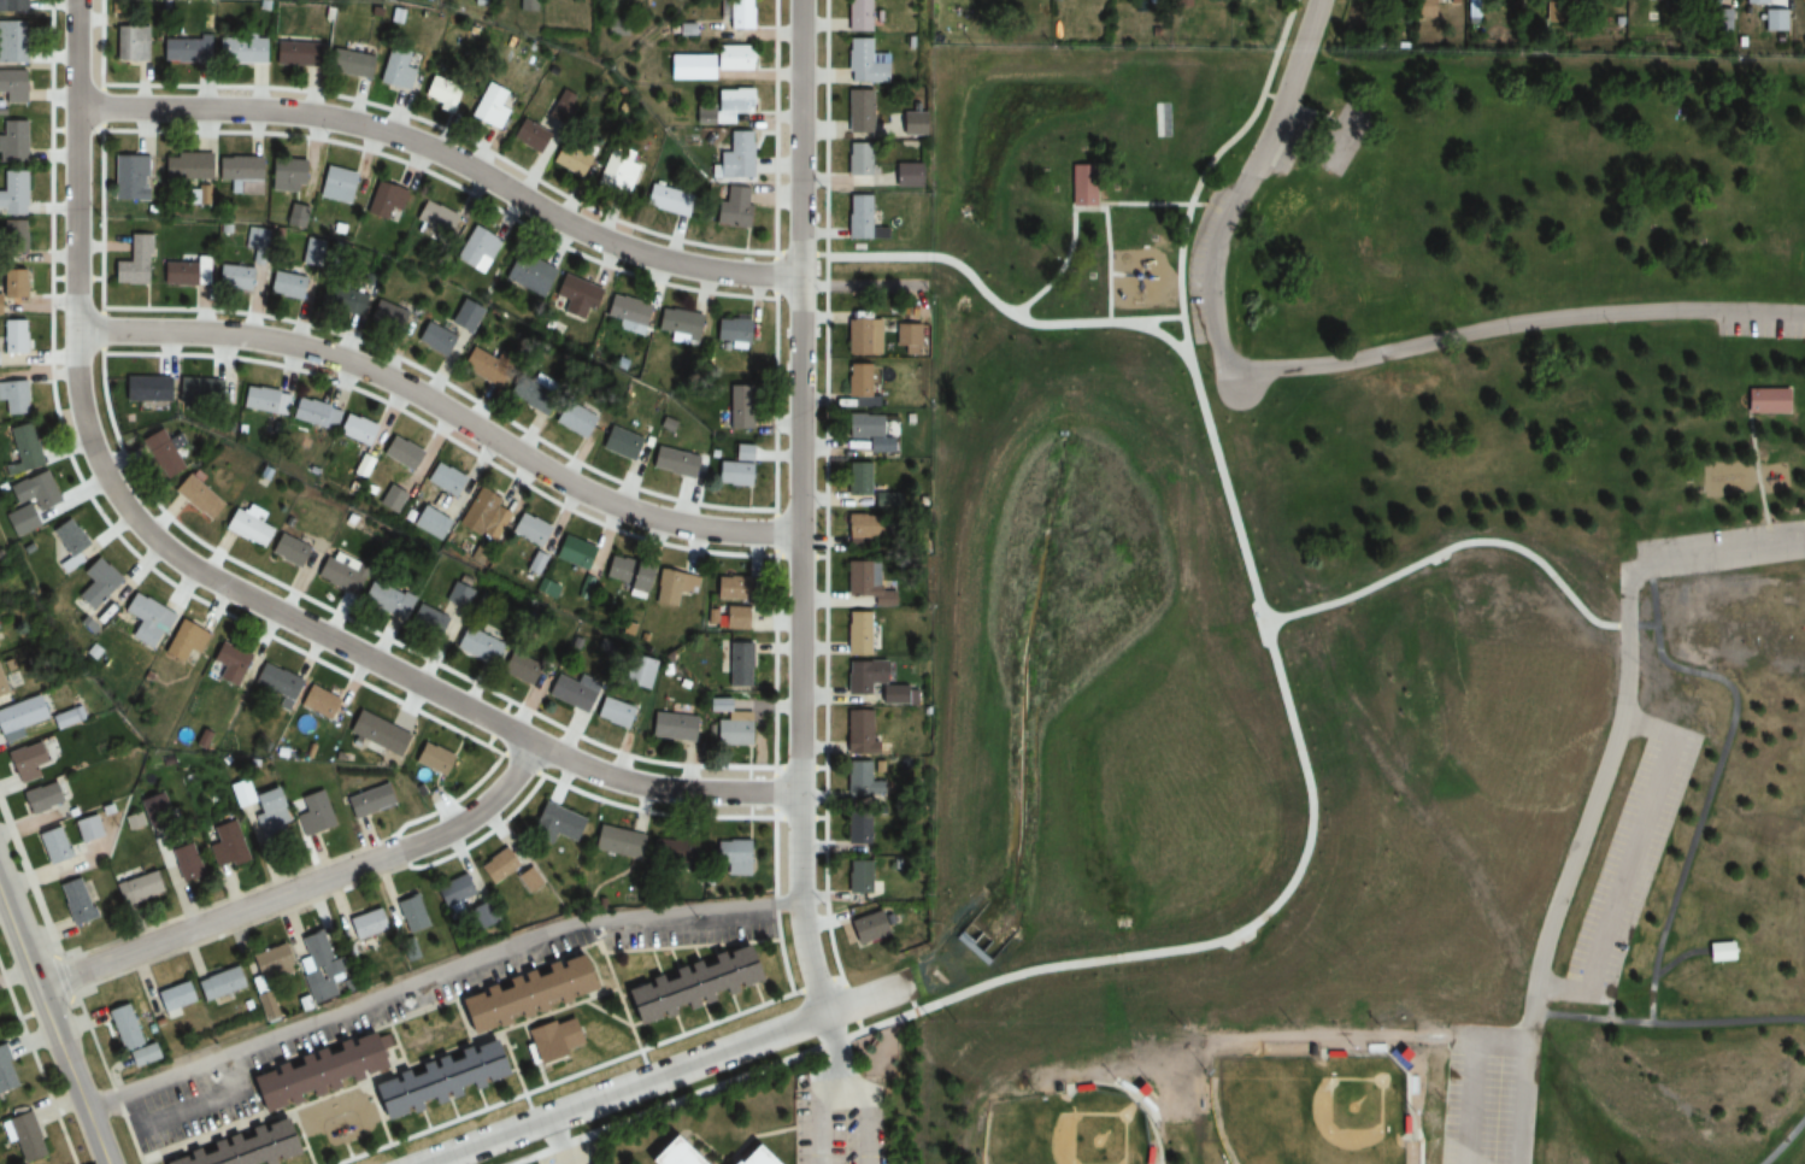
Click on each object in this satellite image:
building: (1754, 2)
building: (12, 6)
building: (735, 14)
building: (854, 16)
building: (1772, 20)
building: (12, 42)
building: (128, 45)
building: (182, 48)
building: (236, 51)
building: (292, 54)
building: (729, 59)
building: (862, 63)
building: (348, 65)
building: (688, 67)
building: (394, 70)
building: (11, 88)
building: (442, 89)
road: (1295, 106)
building: (489, 107)
building: (722, 108)
building: (854, 112)
building: (1163, 119)
building: (527, 136)
building: (11, 142)
building: (730, 155)
building: (569, 158)
building: (854, 165)
building: (183, 169)
building: (235, 170)
building: (286, 177)
building: (127, 178)
building: (335, 182)
road: (500, 184)
building: (1078, 189)
building: (11, 194)
building: (383, 201)
building: (664, 201)
road: (1153, 205)
building: (730, 207)
building: (433, 218)
building: (858, 221)
building: (11, 237)
road: (1010, 239)
building: (254, 240)
building: (476, 248)
road: (1106, 259)
building: (131, 263)
parking lot: (1201, 265)
building: (183, 274)
building: (528, 275)
building: (230, 278)
building: (11, 284)
building: (286, 286)
building: (574, 298)
building: (339, 300)
building: (625, 313)
building: (386, 317)
building: (461, 317)
road: (1512, 323)
building: (678, 325)
parking lot: (1762, 331)
building: (731, 333)
building: (12, 337)
building: (431, 340)
building: (482, 365)
building: (856, 382)
building: (527, 388)
building: (146, 389)
building: (198, 393)
building: (13, 399)
building: (261, 401)
building: (1769, 401)
road: (445, 408)
building: (736, 413)
building: (311, 415)
building: (571, 421)
building: (354, 430)
building: (866, 433)
building: (619, 445)
building: (22, 449)
building: (161, 453)
building: (400, 454)
building: (672, 464)
road: (1757, 468)
building: (730, 474)
building: (856, 480)
building: (442, 481)
building: (194, 499)
building: (392, 500)
building: (29, 504)
road: (801, 506)
building: (482, 518)
building: (429, 524)
building: (245, 525)
building: (858, 530)
building: (529, 531)
parking lot: (1718, 539)
building: (66, 543)
building: (287, 552)
building: (574, 553)
road: (1433, 563)
road: (1717, 564)
building: (337, 574)
building: (625, 575)
building: (868, 576)
road: (214, 580)
building: (93, 587)
building: (674, 588)
building: (729, 588)
building: (454, 598)
building: (383, 600)
park: (1362, 604)
building: (733, 618)
building: (145, 621)
building: (427, 625)
building: (862, 631)
building: (182, 642)
building: (475, 648)
building: (228, 664)
building: (737, 664)
building: (517, 670)
building: (870, 674)
building: (5, 681)
building: (275, 683)
building: (568, 694)
building: (316, 704)
road: (1325, 709)
building: (612, 715)
building: (24, 717)
building: (671, 727)
building: (729, 728)
building: (864, 730)
building: (376, 734)
building: (431, 759)
building: (33, 760)
road: (1715, 776)
building: (860, 780)
building: (42, 796)
building: (368, 801)
building: (151, 803)
building: (259, 812)
building: (311, 813)
building: (553, 824)
building: (84, 828)
building: (856, 831)
building: (616, 841)
building: (52, 845)
building: (222, 845)
building: (671, 851)
building: (730, 856)
building: (183, 860)
building: (496, 865)
road: (1627, 865)
parking lot: (1630, 866)
building: (857, 877)
building: (525, 878)
road: (301, 886)
building: (135, 888)
building: (449, 890)
park: (1435, 896)
building: (72, 900)
building: (407, 912)
building: (360, 924)
building: (864, 928)
building: (1718, 952)
road: (1677, 956)
building: (266, 962)
building: (314, 964)
road: (1022, 971)
road: (436, 975)
building: (216, 983)
building: (686, 986)
building: (521, 994)
building: (171, 995)
road: (1635, 997)
building: (264, 1005)
parking lot: (410, 1009)
road: (1630, 1010)
road: (53, 1024)
building: (119, 1025)
building: (551, 1037)
building: (308, 1070)
road: (660, 1072)
road: (1472, 1075)
building: (4, 1076)
building: (433, 1078)
road: (835, 1090)
parking lot: (1491, 1093)
road: (1134, 1103)
park: (1309, 1110)
road: (868, 1115)
parking lot: (839, 1117)
road: (769, 1133)
building: (19, 1136)
park: (1054, 1139)
road: (1786, 1140)
road: (1418, 1142)
building: (239, 1147)
parking lot: (569, 1153)
building: (666, 1153)
building: (746, 1156)

